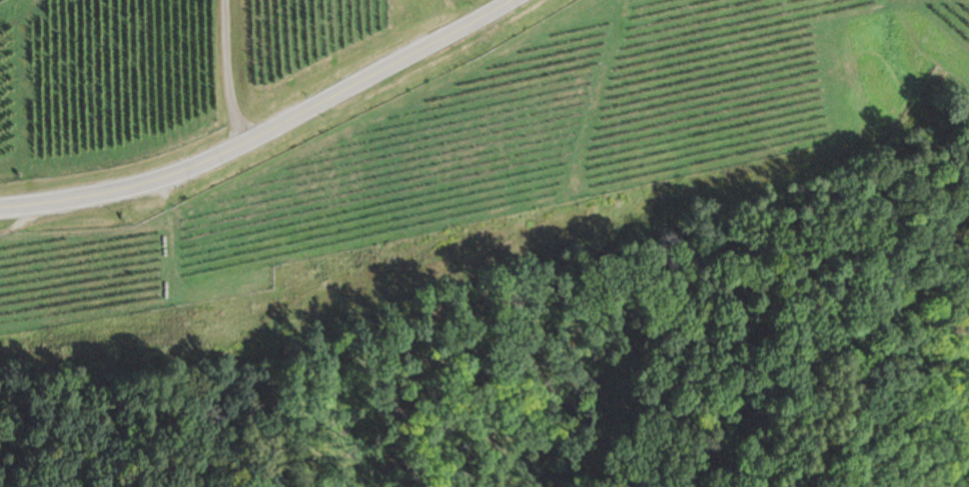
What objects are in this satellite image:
road: (235, 72)
road: (270, 128)

